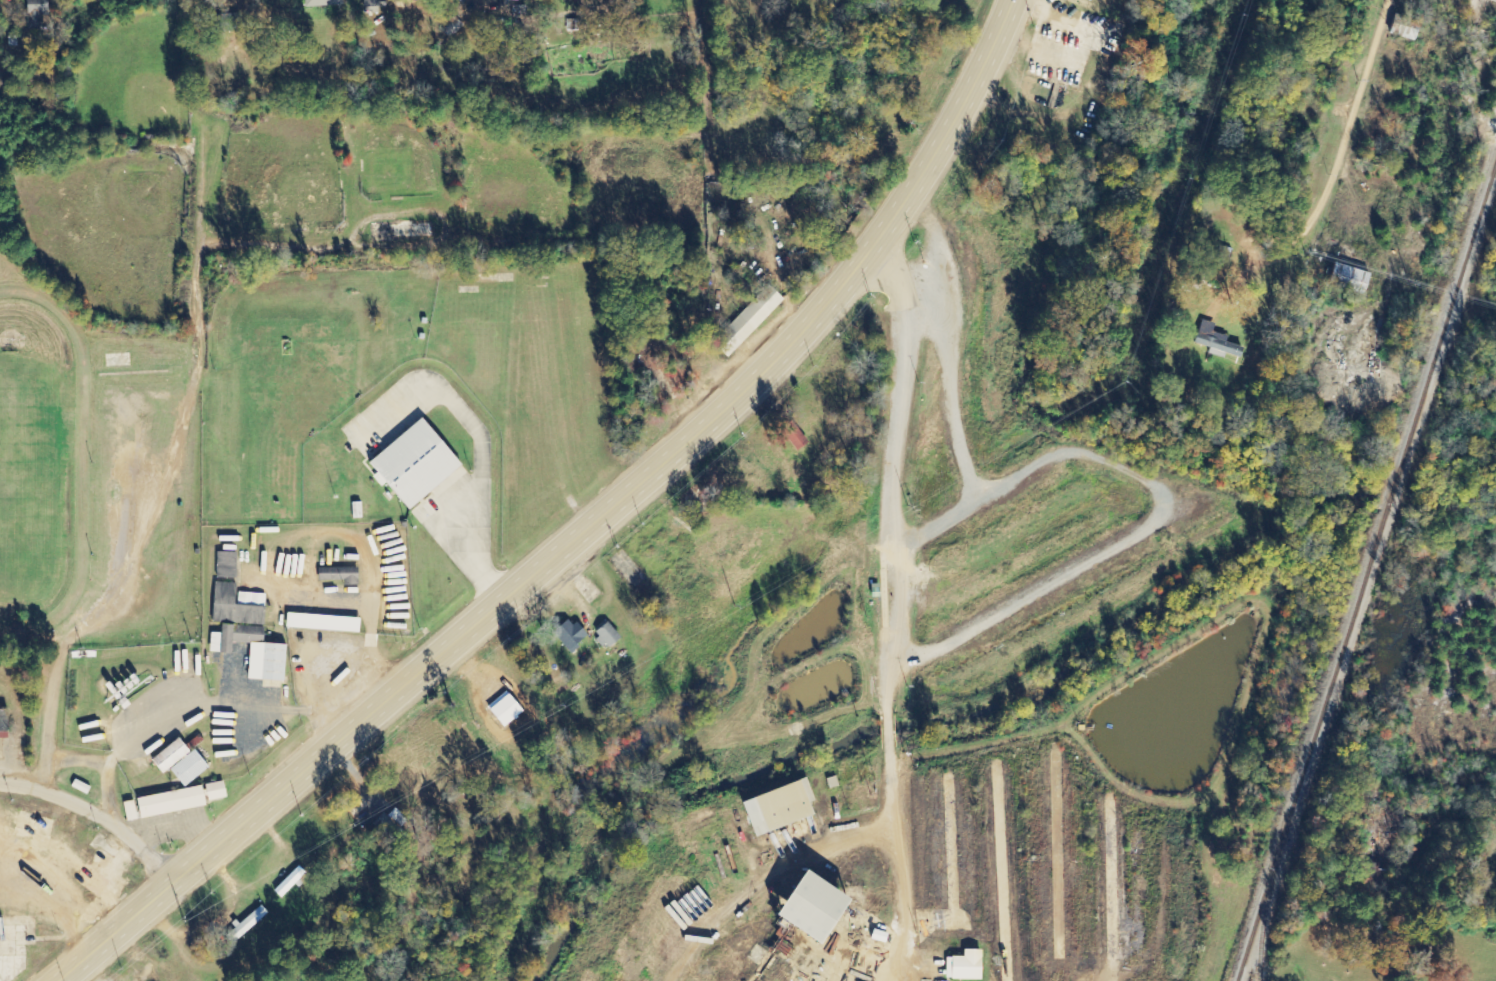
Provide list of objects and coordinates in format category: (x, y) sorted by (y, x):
building: (502, 0)
building: (317, 3)
building: (369, 6)
building: (40, 13)
building: (226, 22)
building: (1405, 34)
road: (1362, 83)
building: (1345, 279)
building: (1195, 280)
building: (744, 321)
building: (1211, 341)
building: (790, 436)
building: (419, 464)
building: (358, 510)
road: (602, 513)
building: (228, 565)
railway: (1364, 569)
building: (341, 575)
building: (238, 606)
road: (885, 615)
building: (325, 623)
building: (571, 633)
building: (610, 636)
building: (255, 651)
building: (174, 755)
building: (192, 769)
building: (82, 787)
building: (183, 800)
building: (773, 807)
building: (132, 811)
road: (94, 814)
building: (292, 881)
building: (798, 904)
building: (249, 923)
road: (68, 962)
road: (76, 962)
building: (960, 967)

